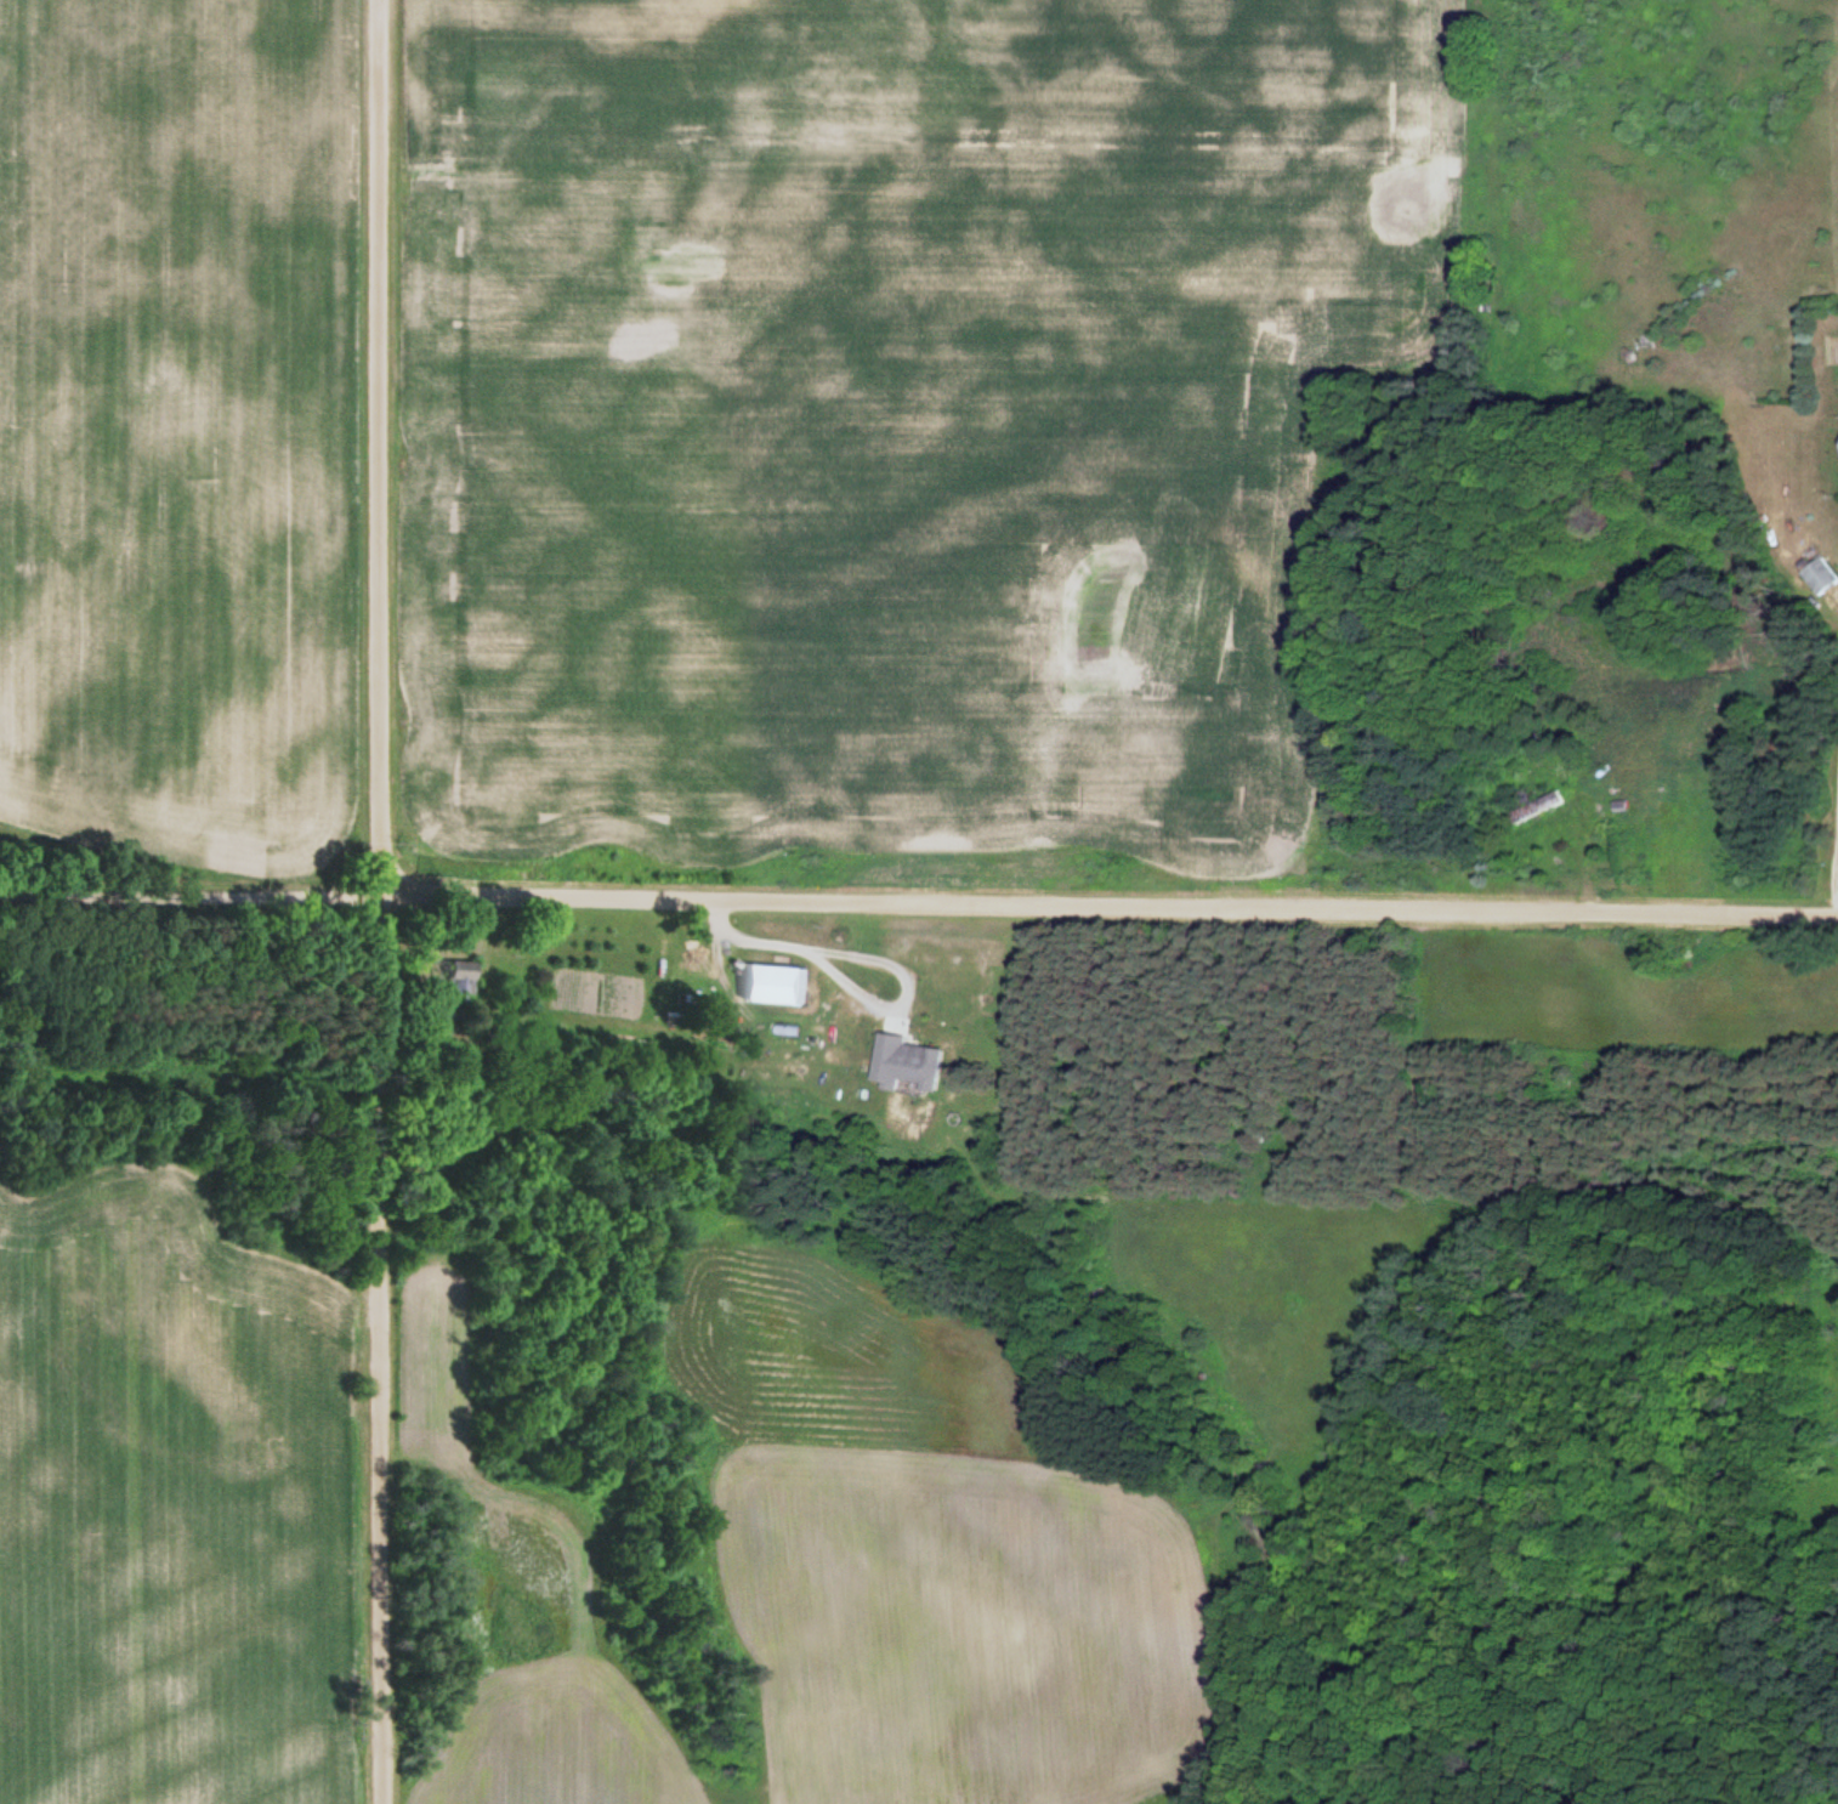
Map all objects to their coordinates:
building: (1825, 575)
building: (1550, 804)
road: (918, 895)
road: (382, 901)
building: (460, 981)
building: (782, 983)
building: (915, 1062)

